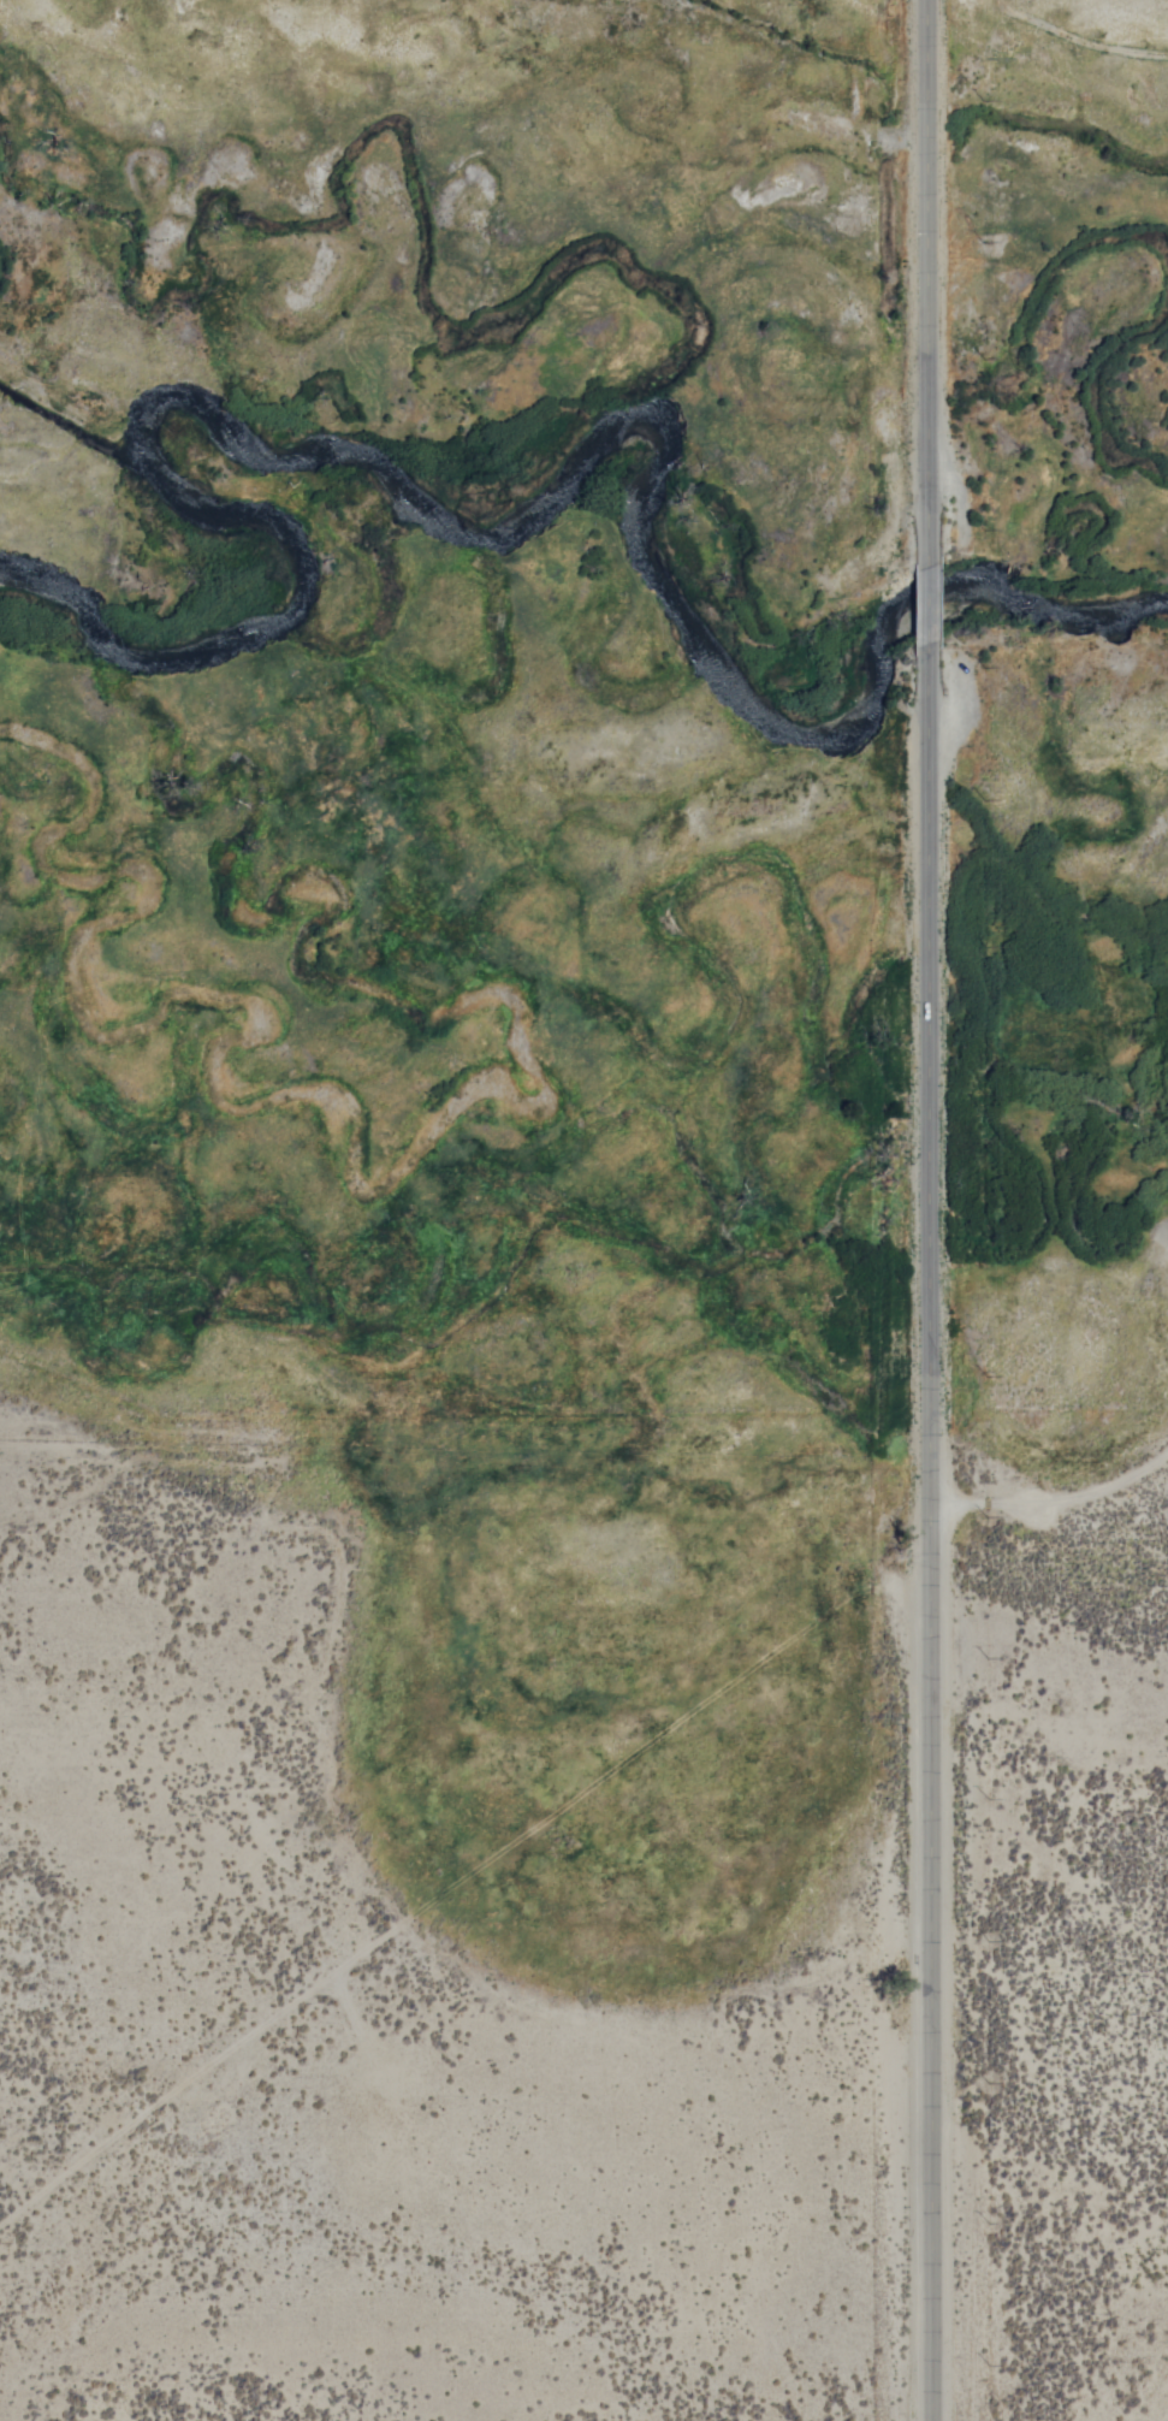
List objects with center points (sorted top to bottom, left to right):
road: (926, 284)
river: (665, 569)
river: (260, 594)
road: (929, 618)
river: (60, 629)
road: (1051, 1497)
road: (927, 1544)
road: (455, 1888)

